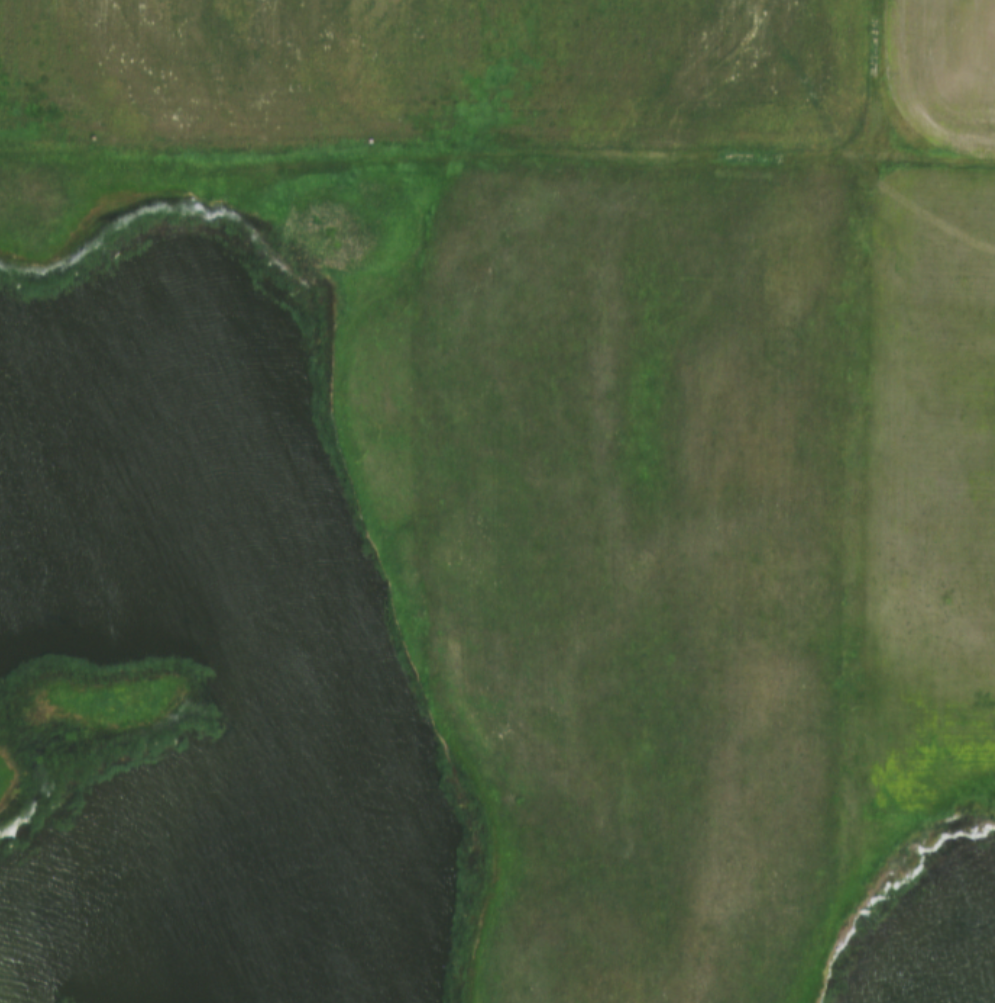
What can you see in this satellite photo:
road: (431, 160)
road: (861, 428)

